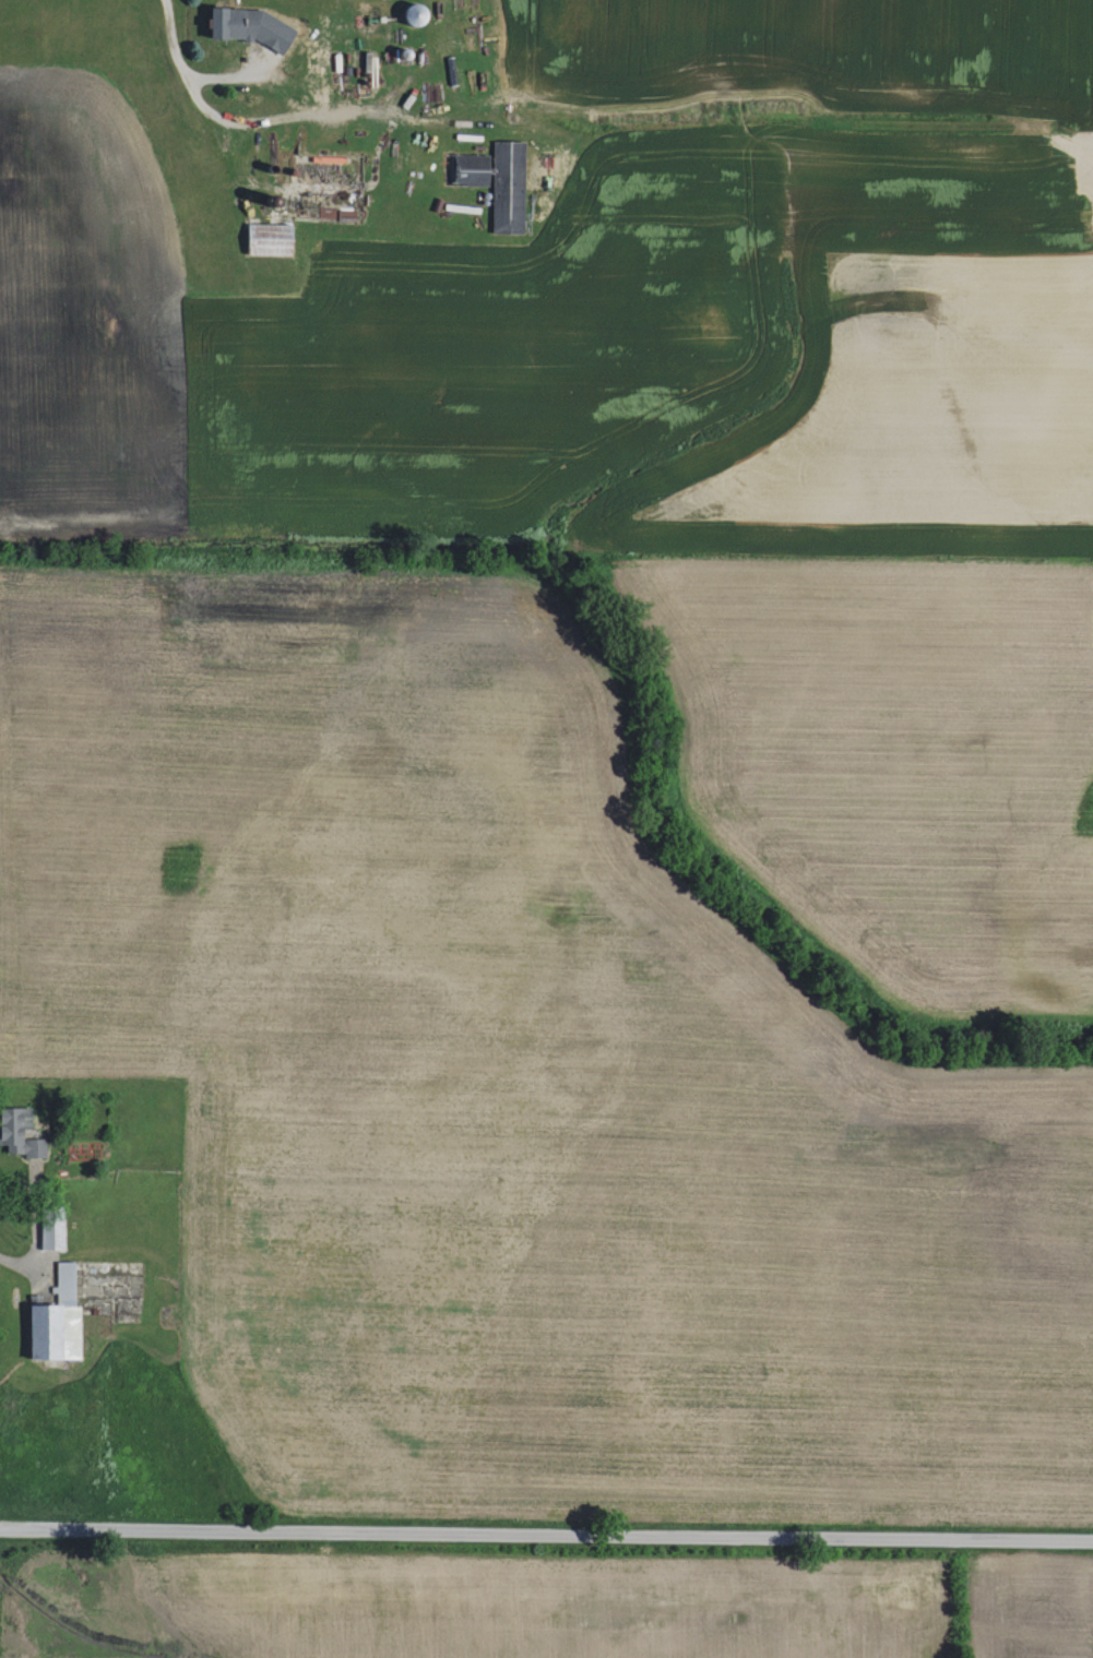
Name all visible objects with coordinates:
building: (254, 27)
road: (265, 124)
building: (500, 182)
building: (272, 240)
building: (21, 1133)
road: (37, 1215)
building: (59, 1320)
road: (546, 1532)

